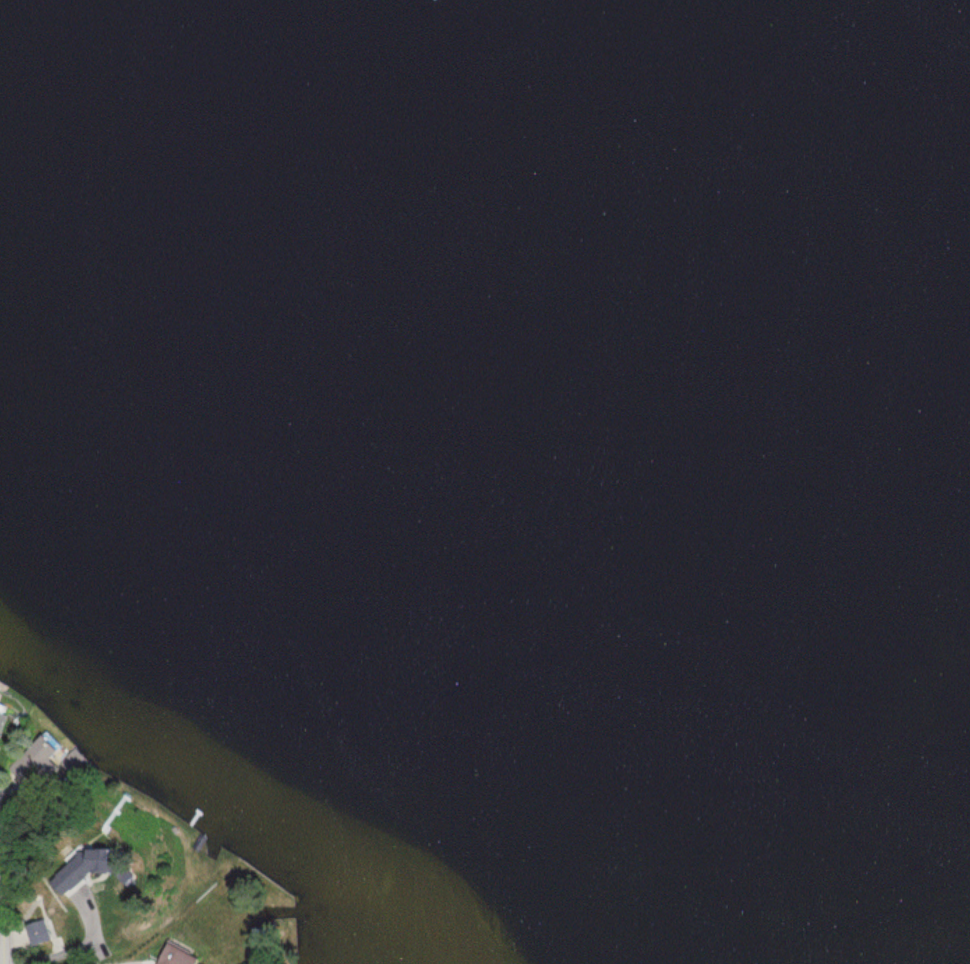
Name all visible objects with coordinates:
road: (7, 892)
building: (43, 935)
building: (263, 938)
building: (185, 956)

